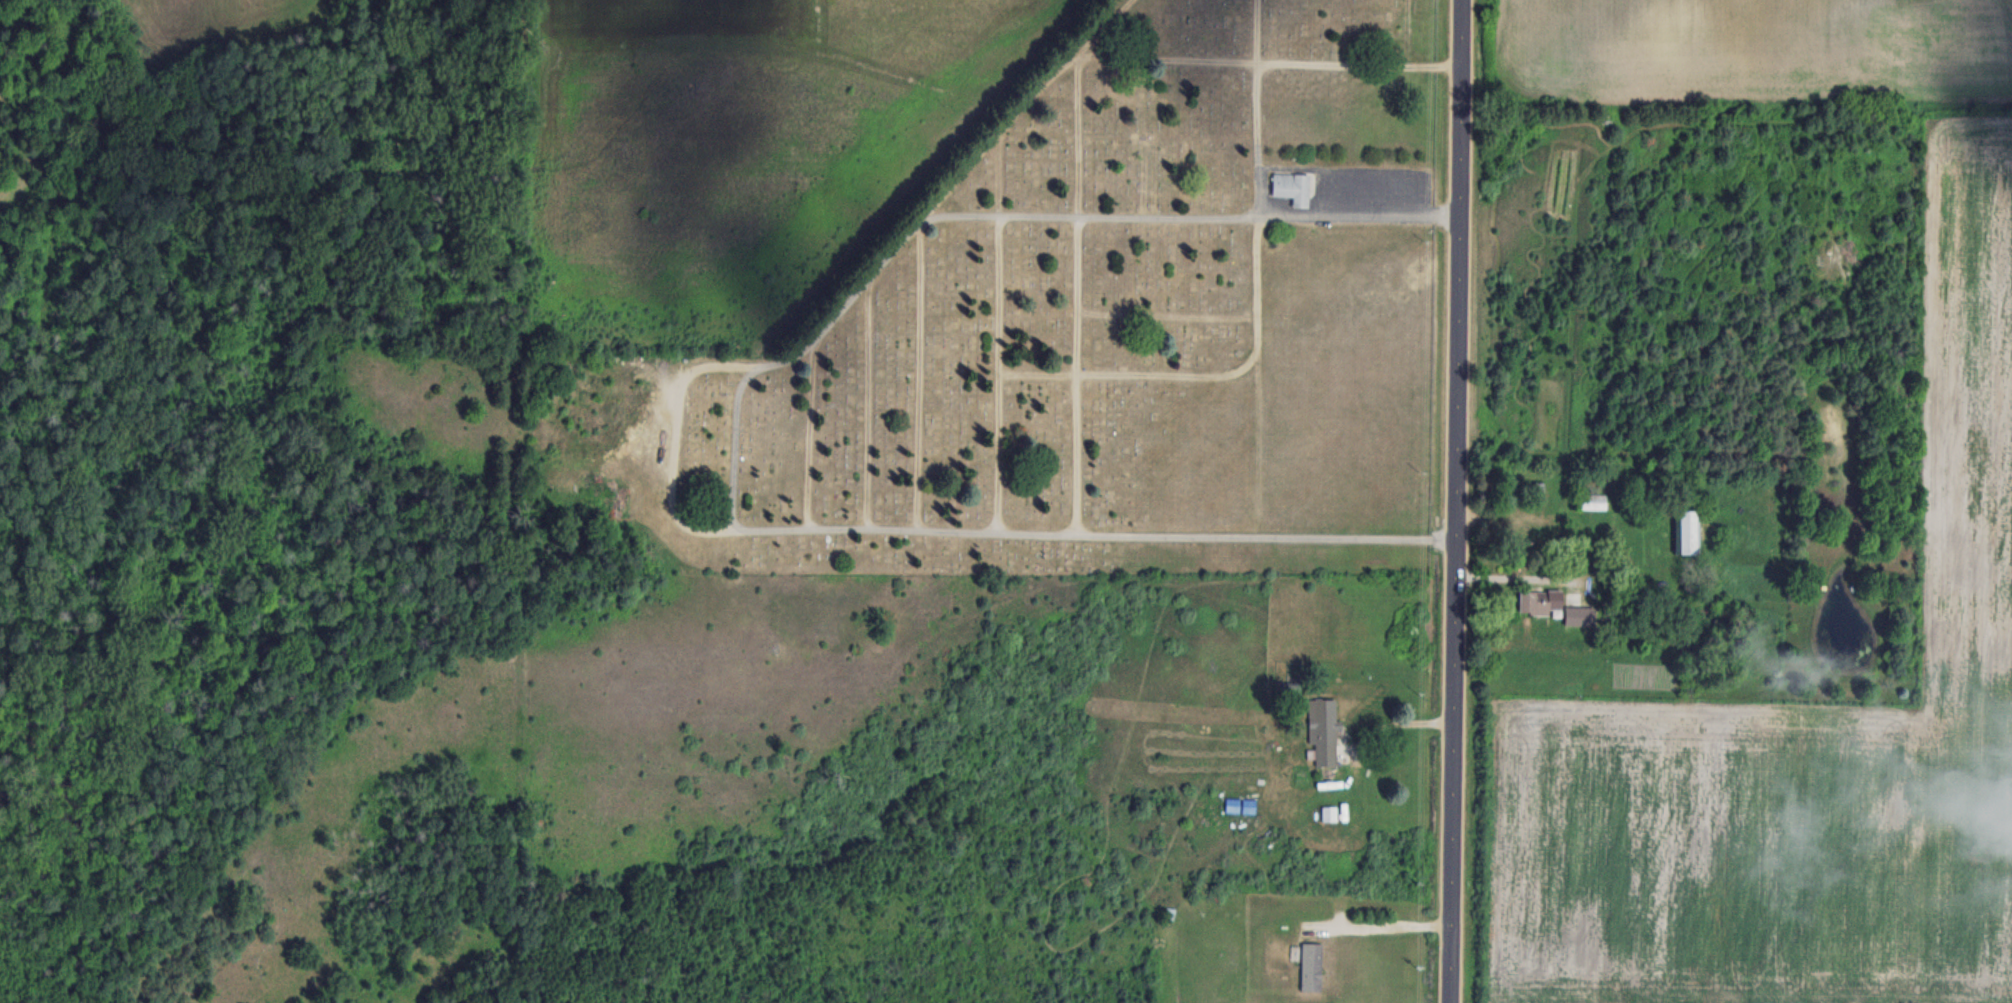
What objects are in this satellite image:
building: (1292, 188)
park: (1084, 333)
road: (1455, 501)
building: (1592, 501)
building: (1688, 532)
building: (1540, 601)
building: (1580, 614)
building: (1323, 730)
road: (1382, 926)
building: (1311, 965)

